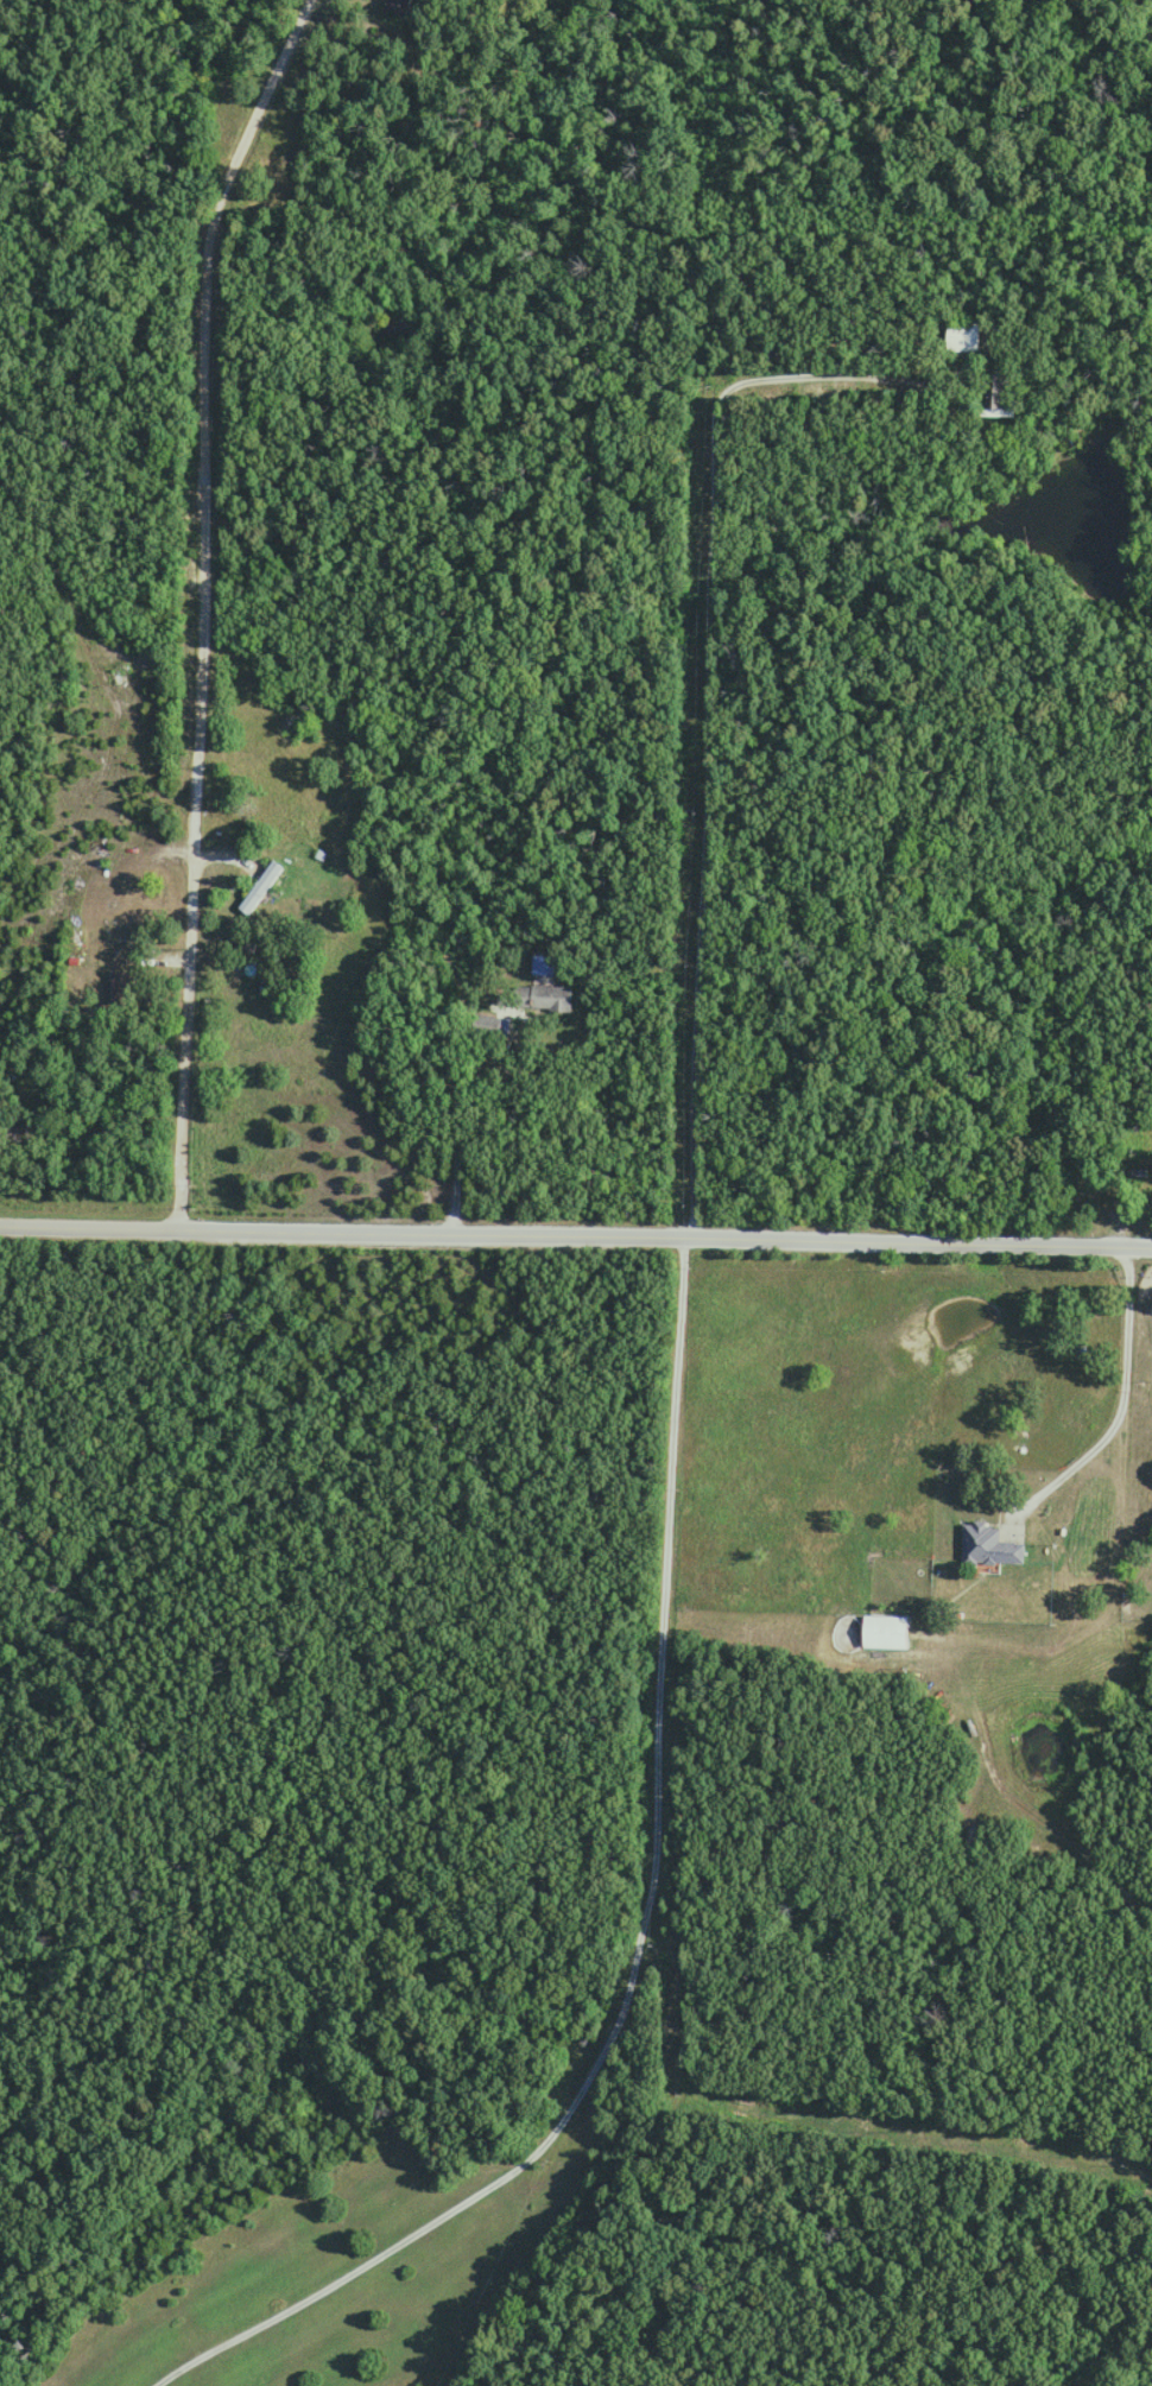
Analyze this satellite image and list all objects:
building: (399, 5)
building: (961, 336)
building: (994, 392)
road: (204, 605)
road: (707, 714)
building: (259, 886)
building: (542, 962)
building: (121, 974)
building: (542, 996)
building: (488, 1024)
road: (454, 1146)
building: (1137, 1185)
road: (576, 1239)
road: (1122, 1397)
building: (987, 1544)
building: (884, 1629)
road: (639, 1935)

